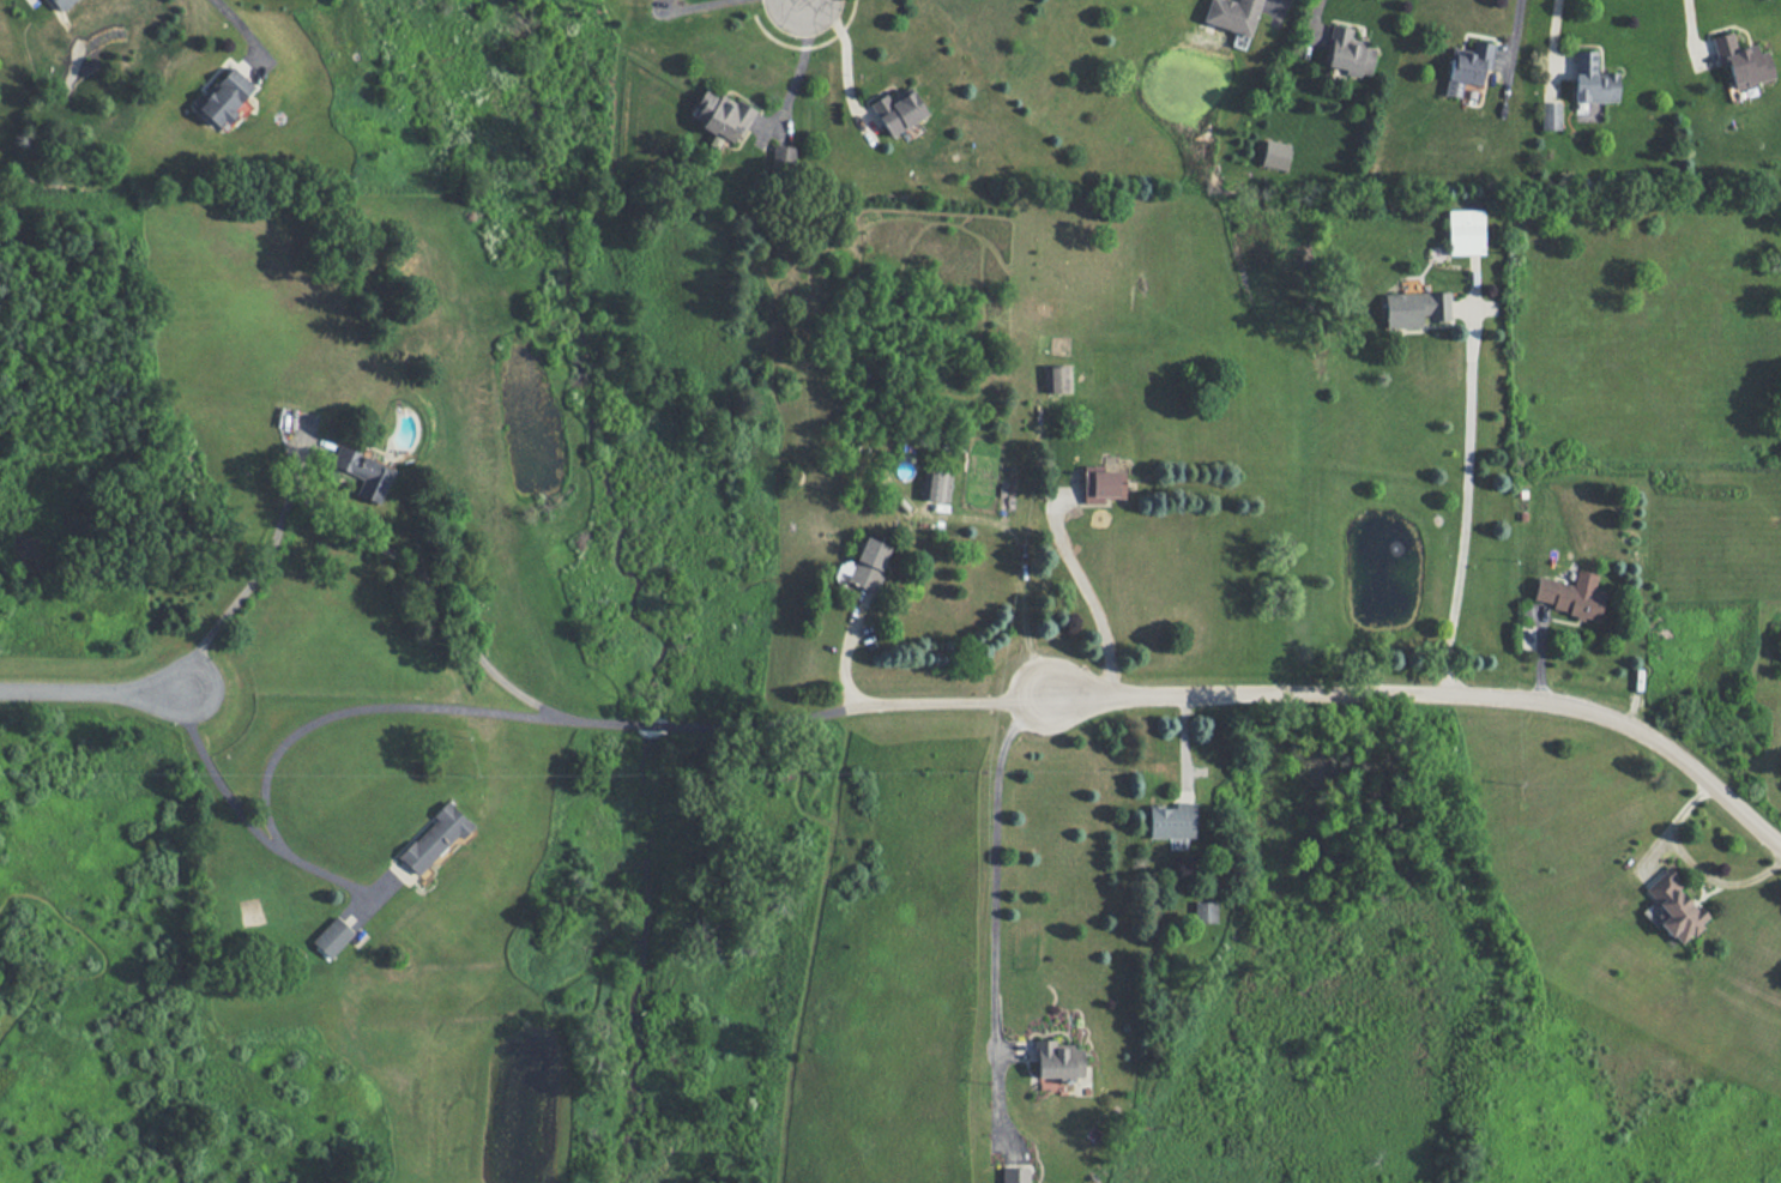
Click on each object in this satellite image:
road: (792, 1)
road: (798, 1)
building: (62, 2)
road: (688, 6)
building: (1232, 14)
road: (239, 28)
building: (1347, 52)
road: (844, 54)
building: (1741, 60)
building: (1467, 66)
road: (795, 71)
building: (1592, 79)
building: (224, 96)
building: (898, 110)
building: (1550, 115)
building: (722, 117)
building: (1274, 155)
building: (784, 158)
building: (1465, 231)
building: (1415, 308)
building: (1057, 379)
building: (363, 472)
building: (1100, 483)
building: (936, 485)
road: (1467, 503)
road: (340, 530)
building: (868, 563)
road: (1024, 572)
road: (1087, 583)
building: (1569, 594)
road: (93, 689)
road: (1442, 693)
road: (955, 700)
road: (309, 722)
road: (743, 725)
building: (434, 837)
road: (996, 857)
building: (1674, 906)
building: (1205, 911)
building: (332, 936)
building: (1057, 1060)
building: (1014, 1175)

